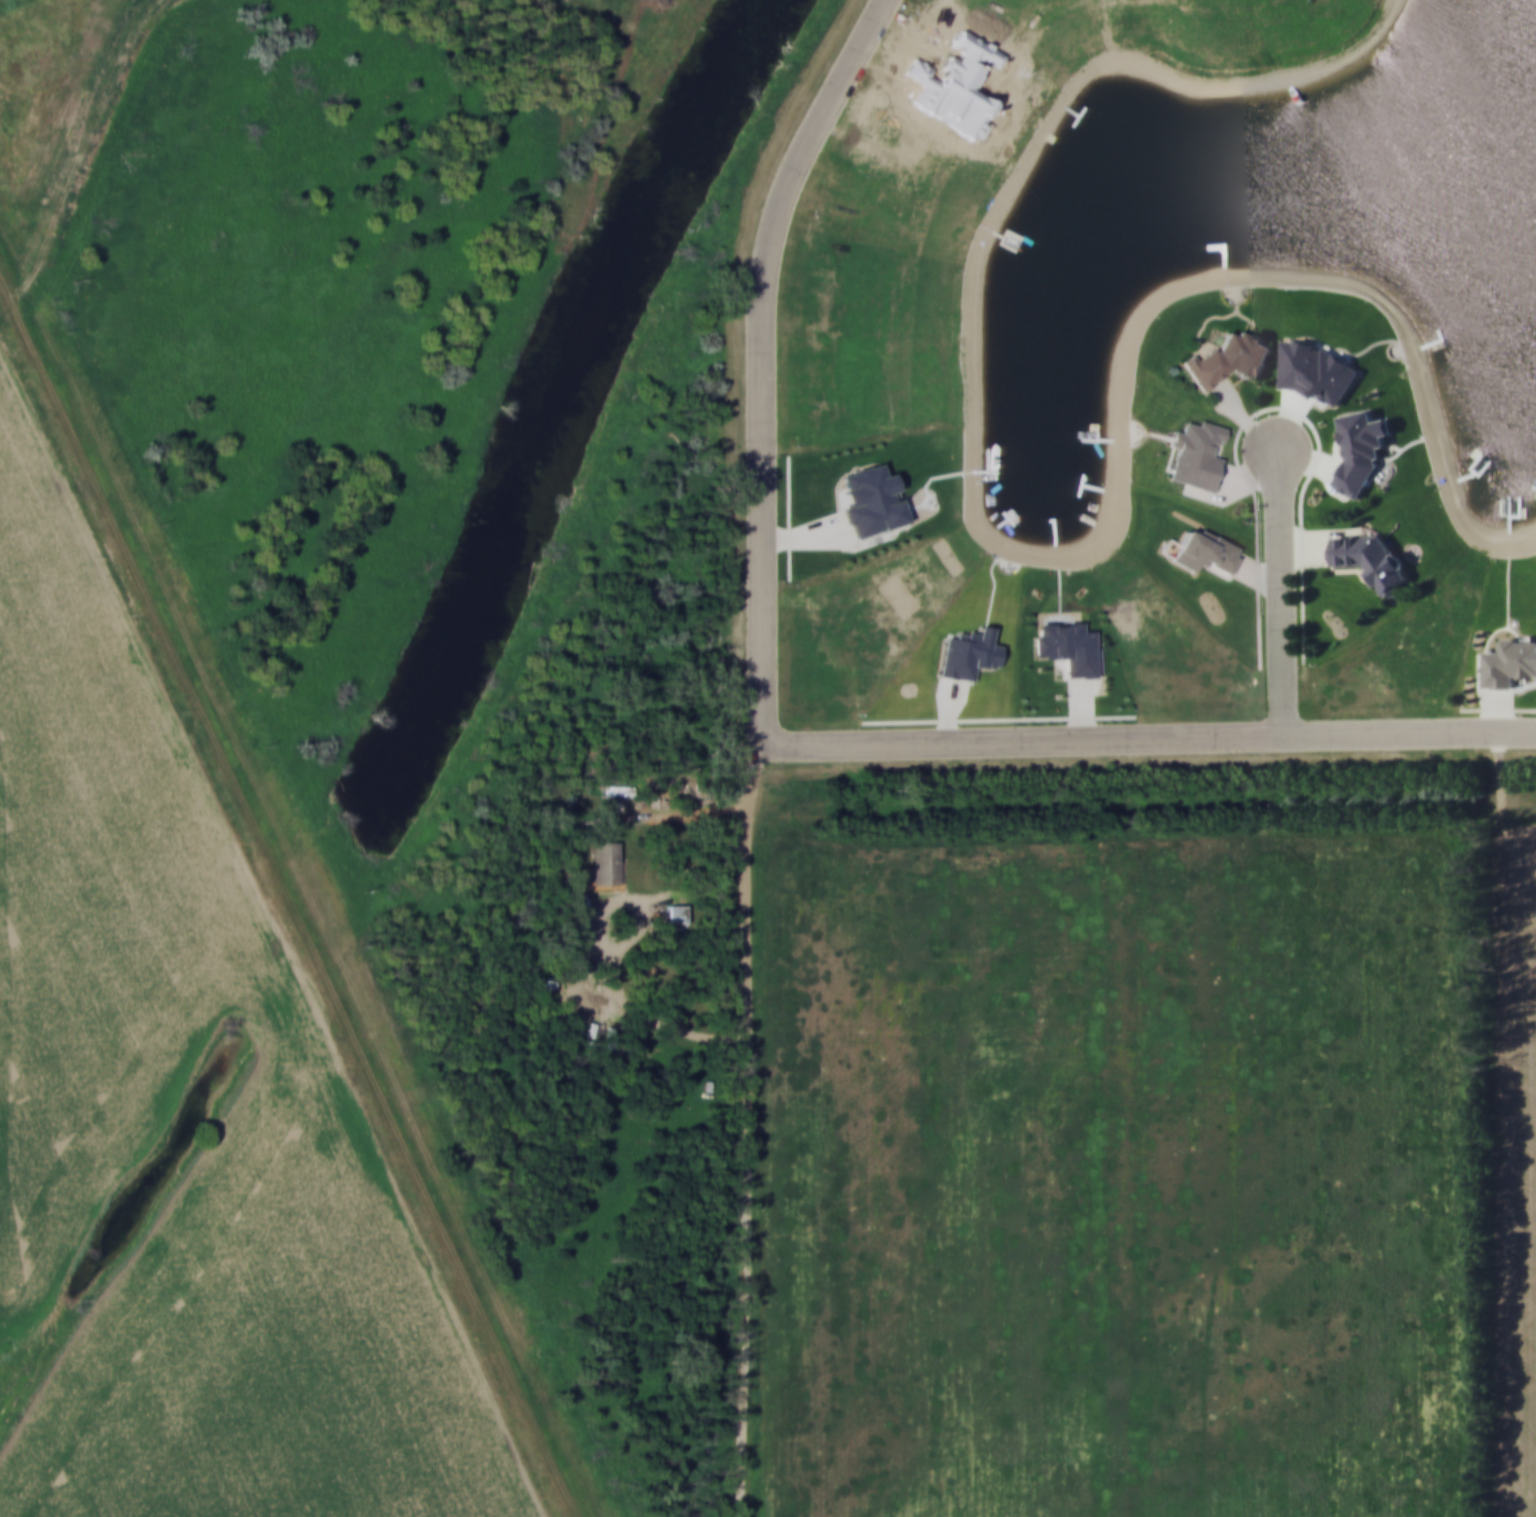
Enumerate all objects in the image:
building: (1229, 357)
road: (751, 360)
building: (1204, 551)
building: (1371, 558)
road: (1287, 594)
building: (1509, 661)
road: (1149, 739)
road: (697, 808)
building: (604, 862)
road: (752, 1133)

